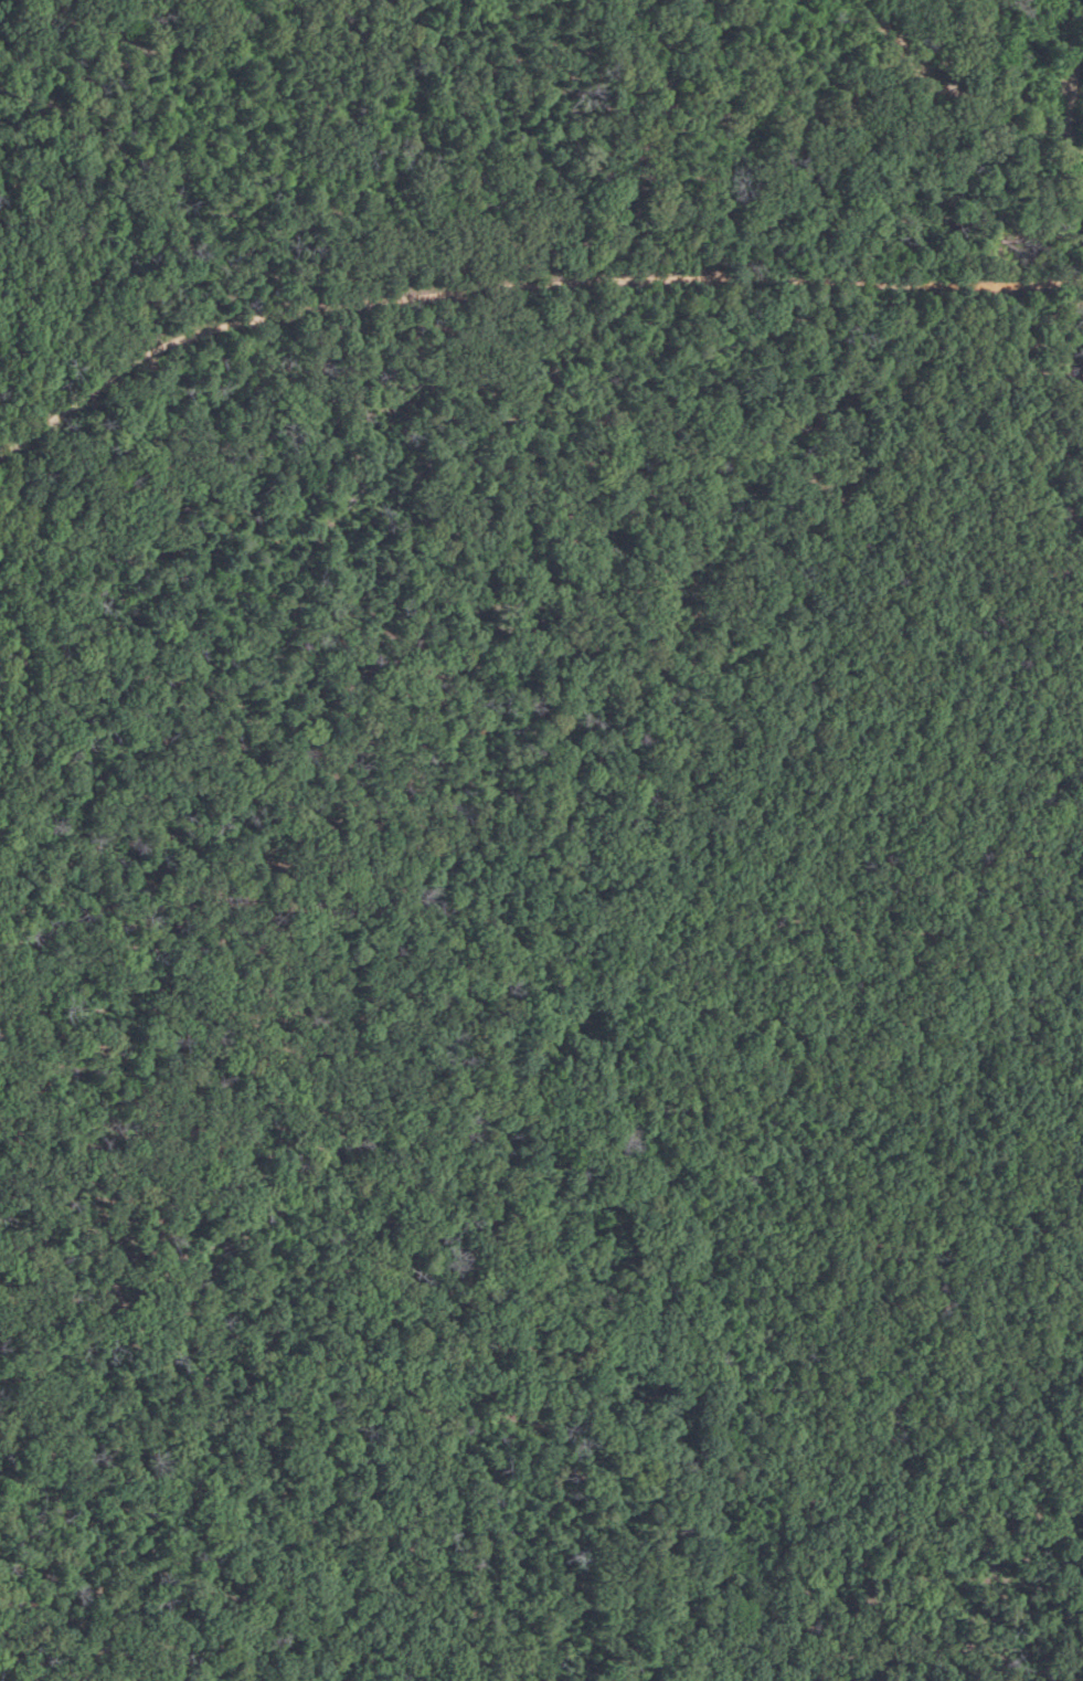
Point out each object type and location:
road: (522, 284)
road: (1018, 422)

